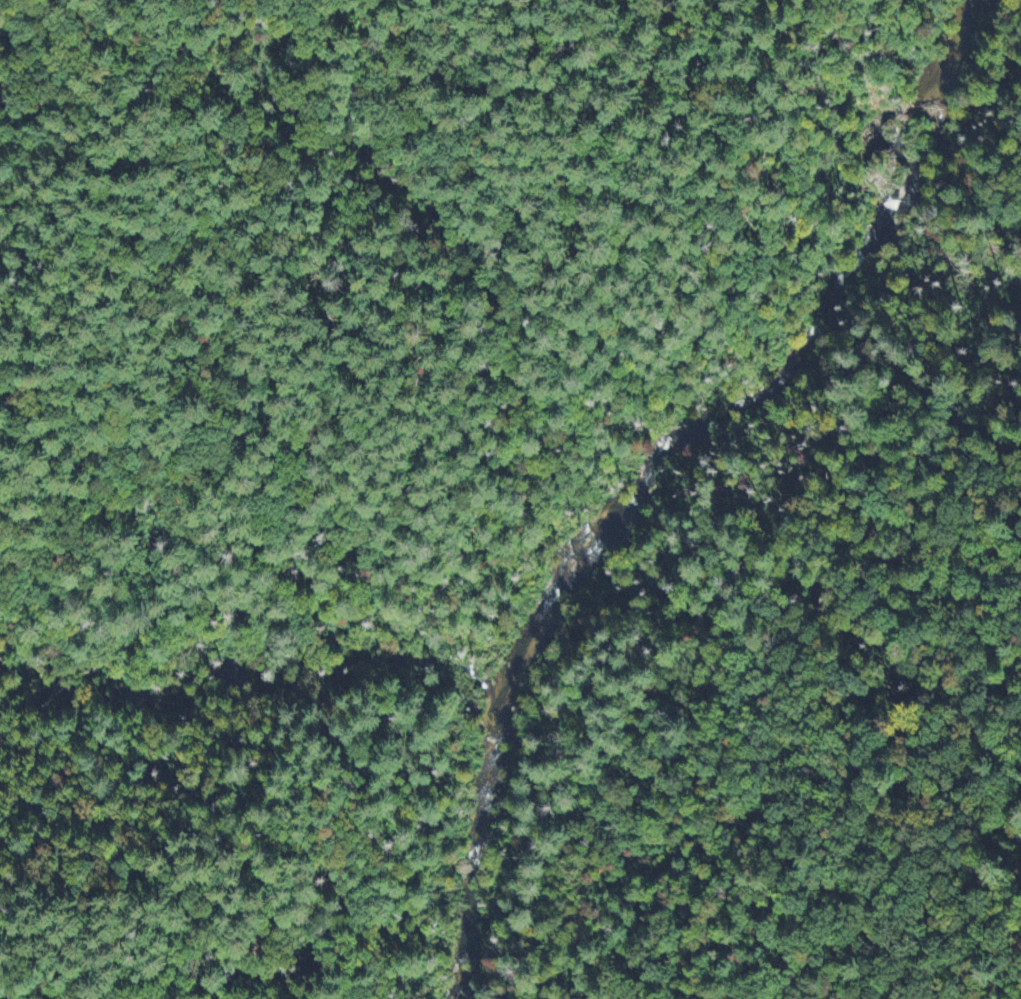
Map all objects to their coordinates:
river: (752, 347)
river: (476, 837)

